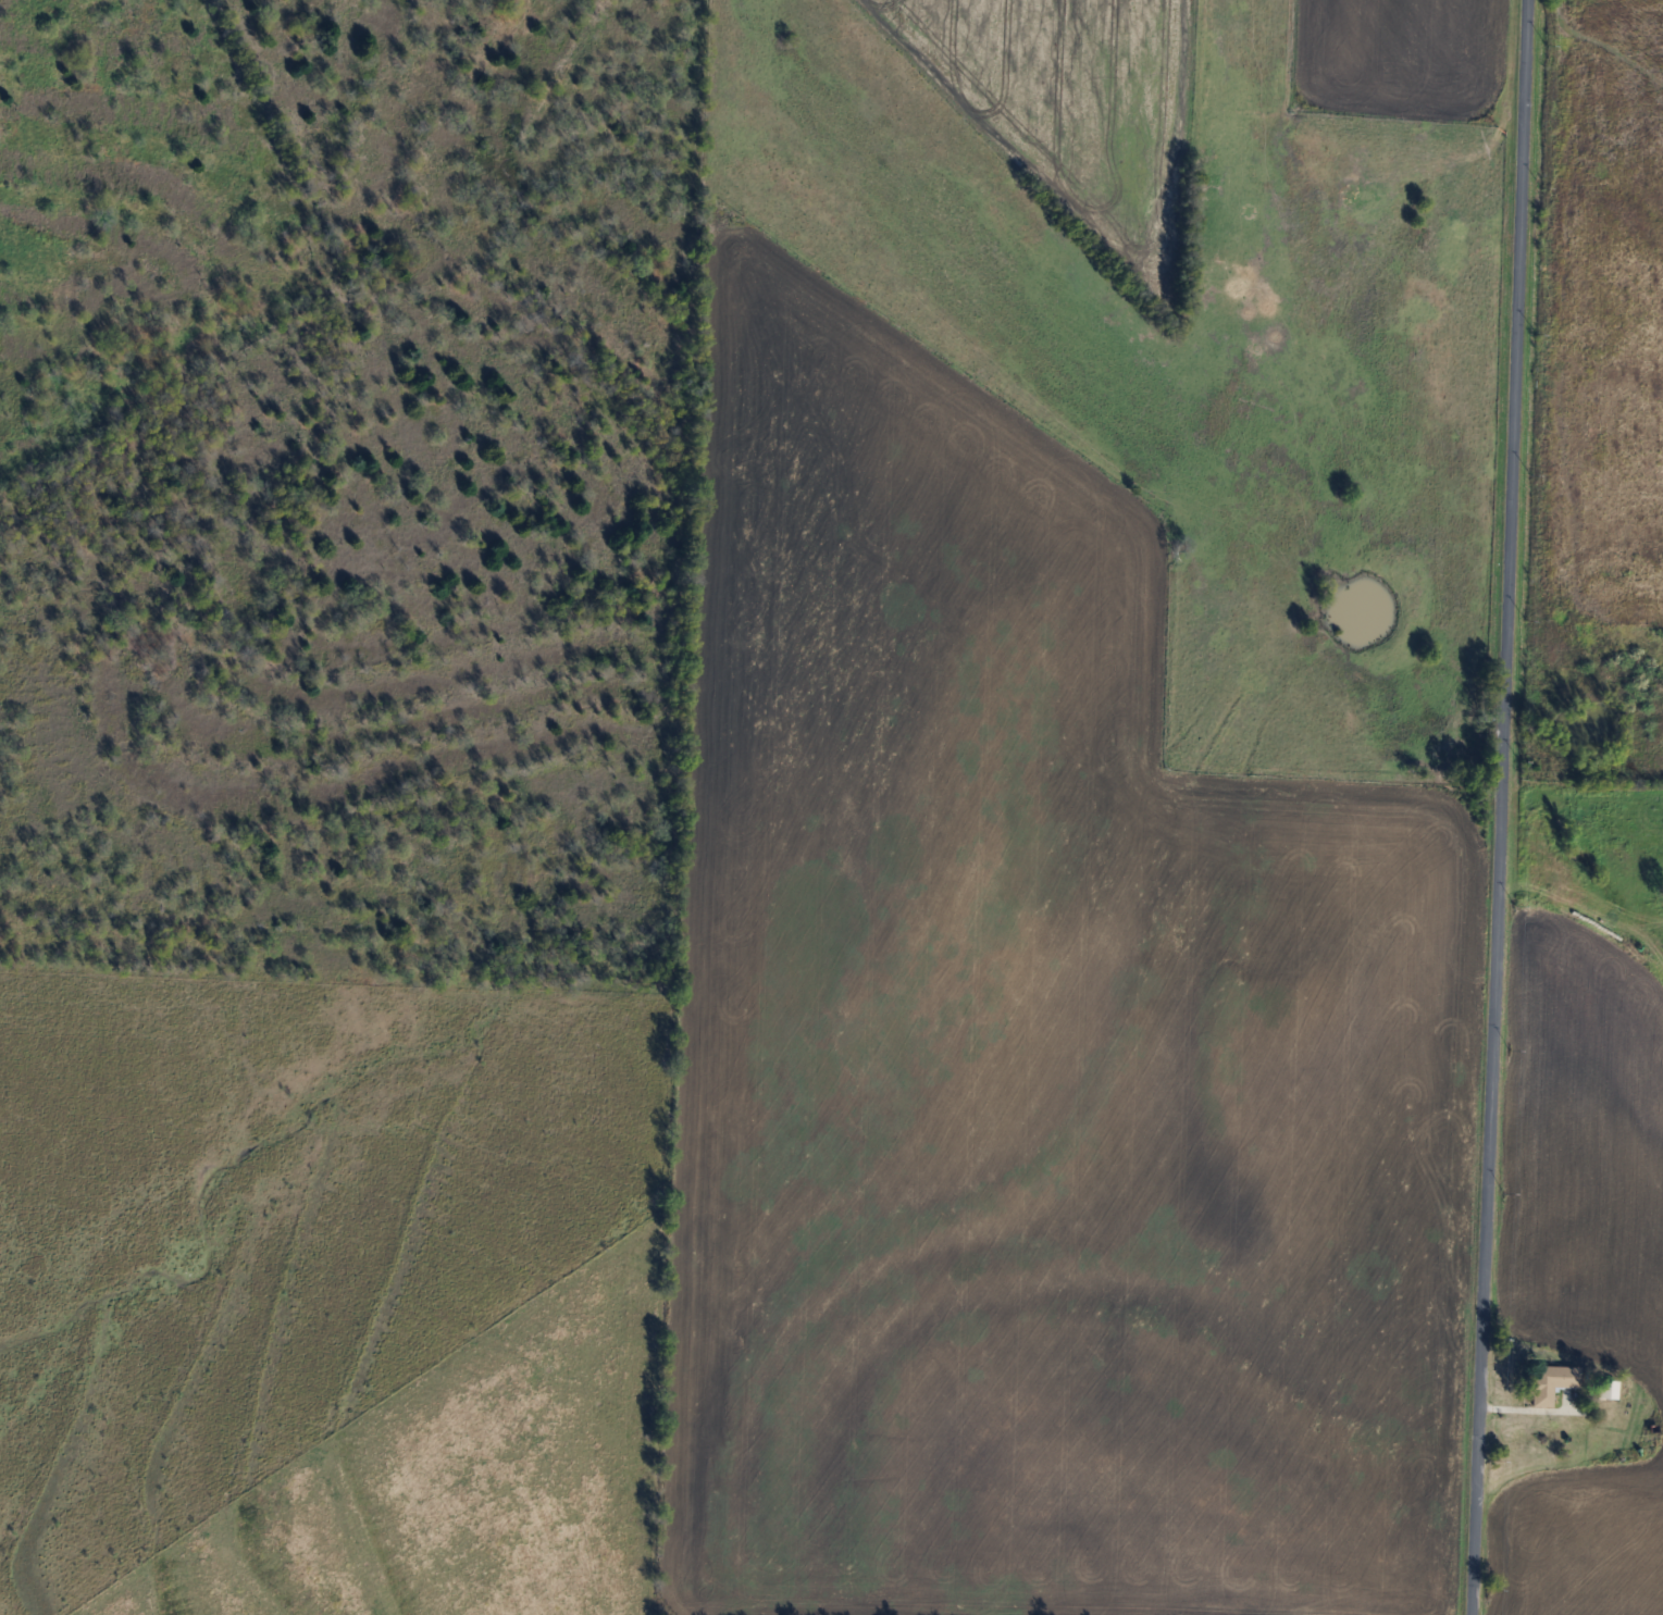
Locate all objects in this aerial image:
road: (1498, 807)
building: (1550, 1382)
building: (1606, 1390)

